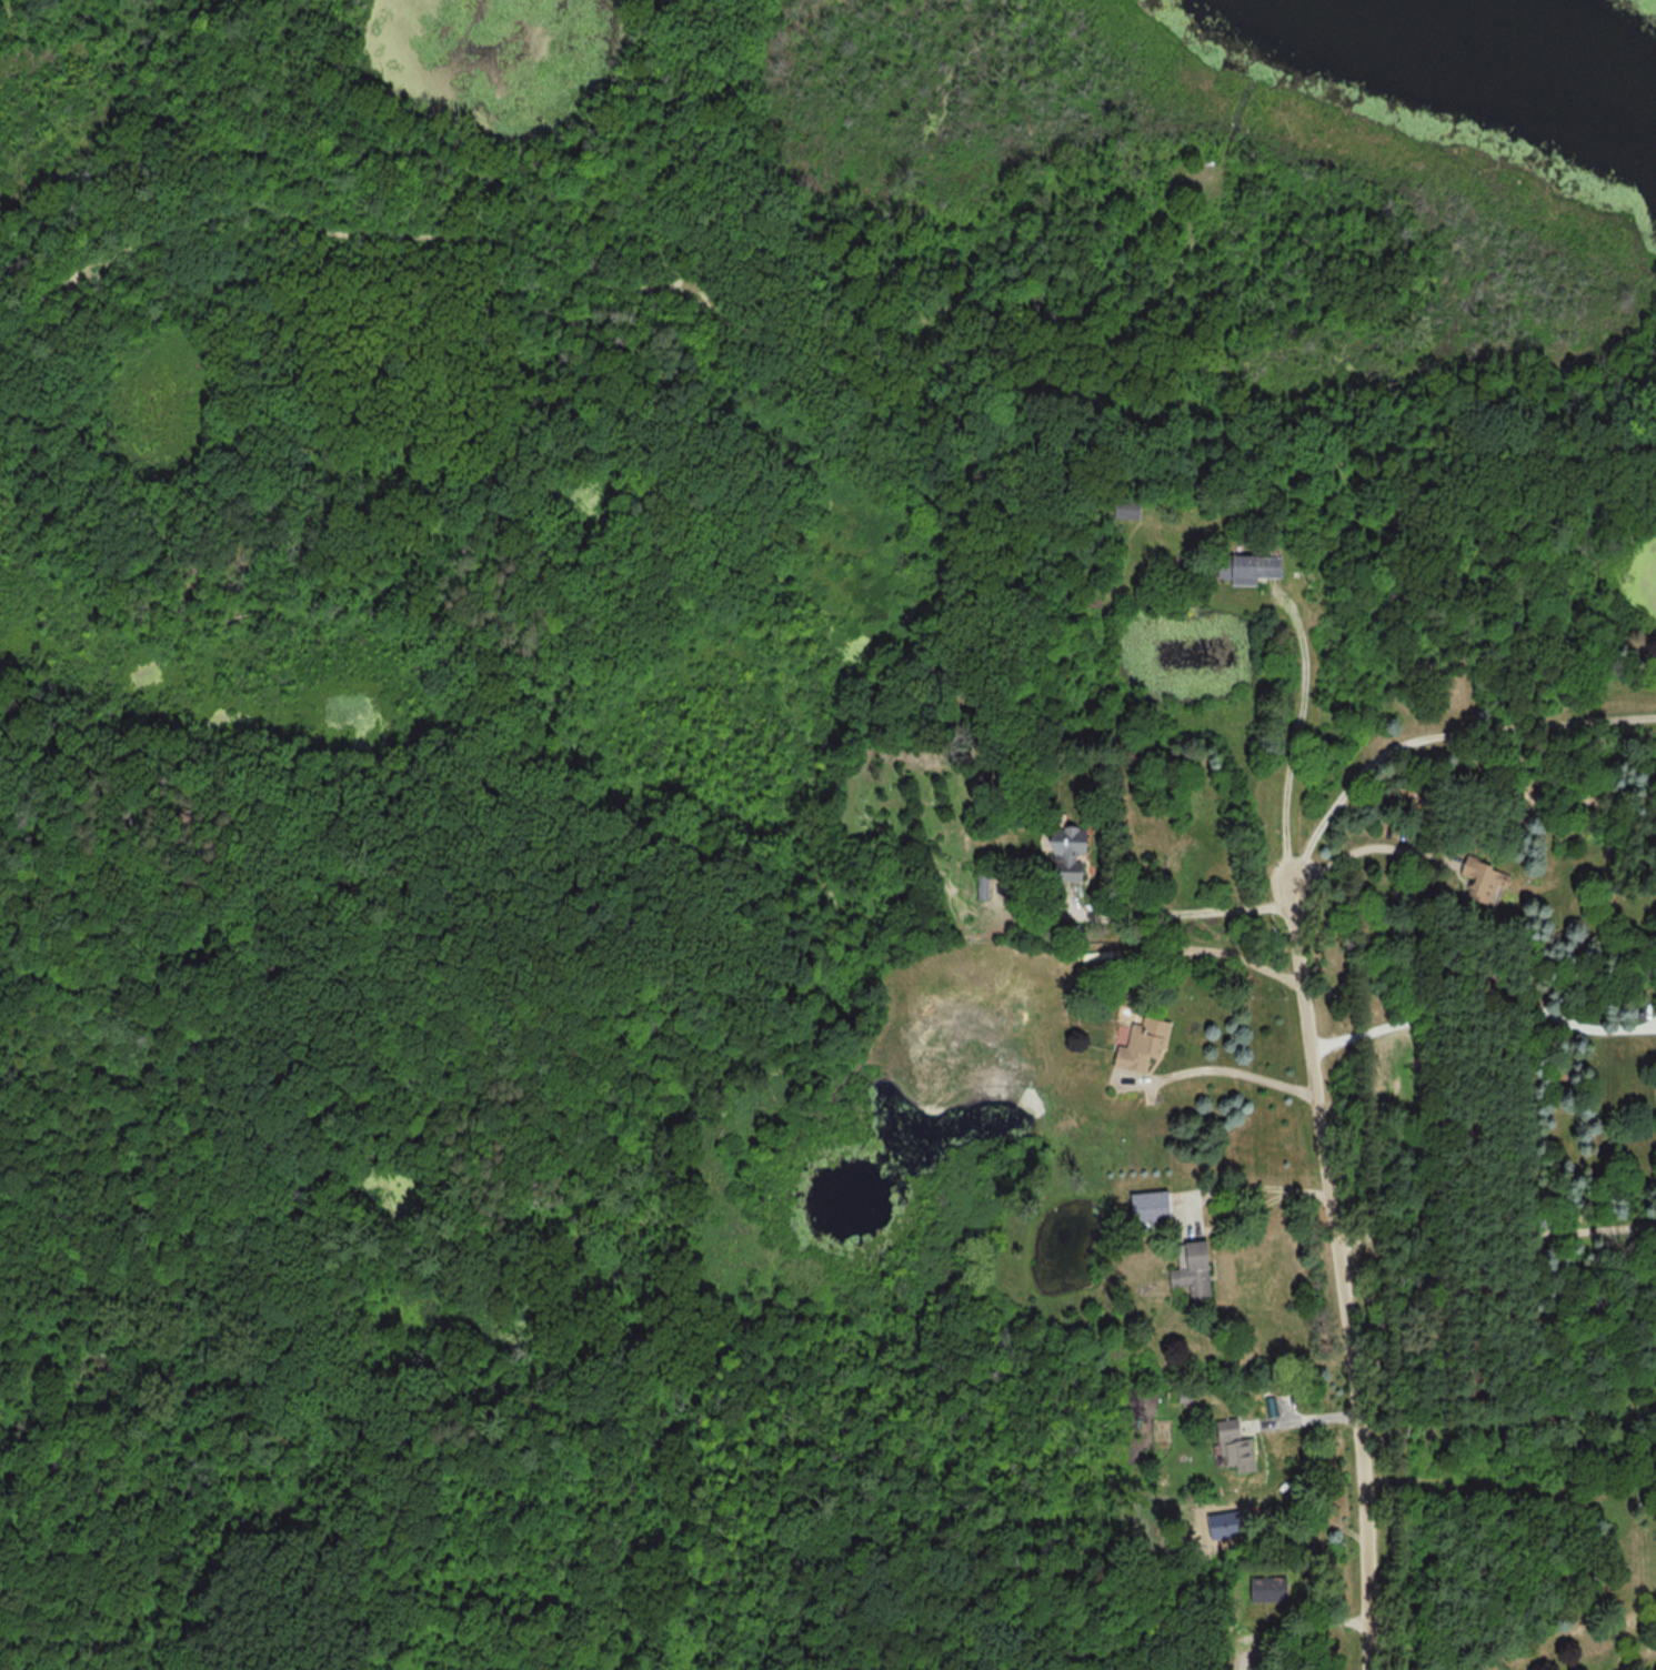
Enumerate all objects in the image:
road: (665, 280)
building: (1126, 507)
building: (1247, 566)
road: (1301, 722)
park: (614, 743)
road: (1375, 836)
building: (1066, 854)
building: (1483, 879)
building: (982, 885)
road: (1186, 912)
building: (1140, 1047)
road: (1319, 1057)
road: (1237, 1058)
road: (1271, 1186)
building: (1148, 1211)
road: (1502, 1227)
building: (1192, 1271)
building: (1235, 1446)
building: (1268, 1588)
road: (1288, 1621)

